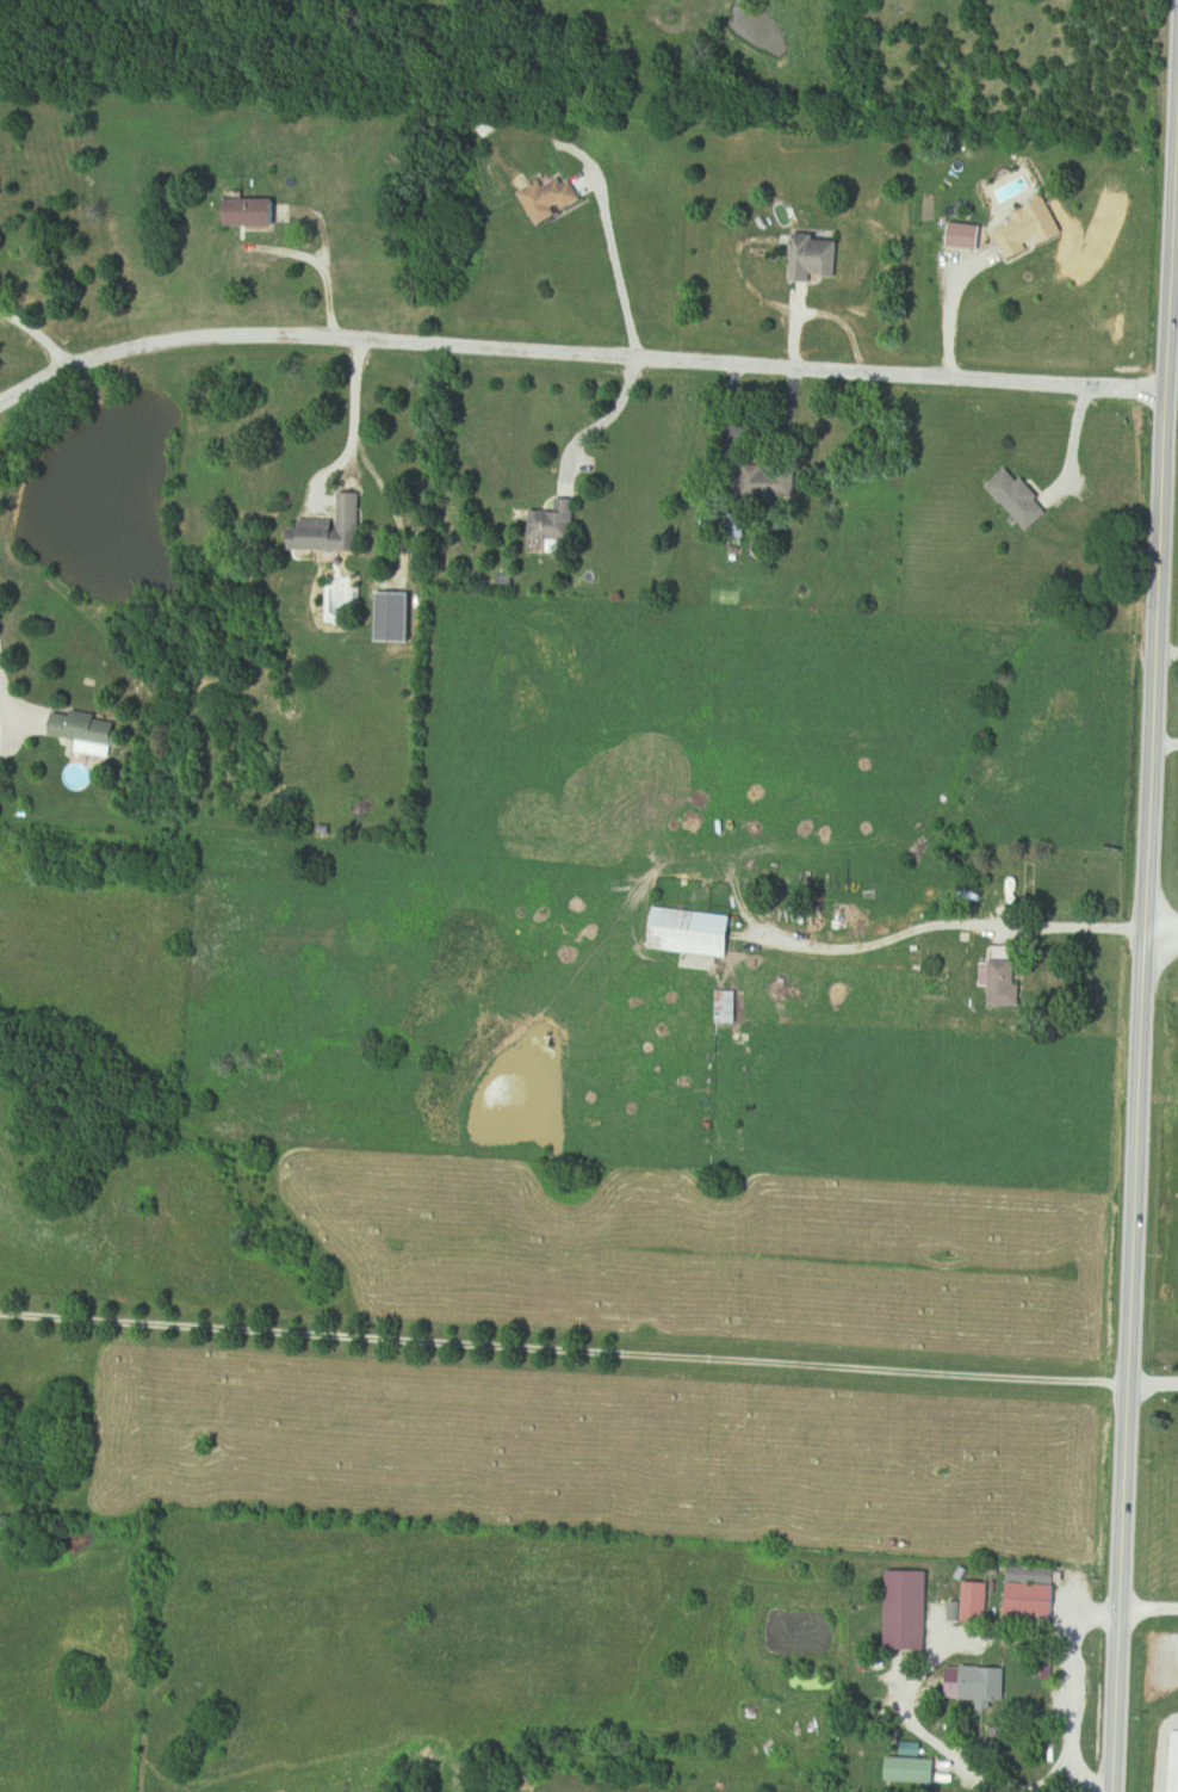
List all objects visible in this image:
building: (551, 197)
building: (249, 211)
building: (1029, 229)
building: (966, 235)
building: (813, 257)
road: (619, 268)
road: (948, 315)
road: (831, 316)
road: (39, 333)
road: (575, 356)
road: (599, 427)
road: (352, 447)
building: (1021, 499)
building: (329, 527)
building: (553, 529)
road: (1166, 655)
road: (6, 699)
building: (85, 733)
road: (1164, 748)
road: (955, 917)
road: (1145, 921)
building: (707, 934)
road: (1161, 943)
building: (1009, 991)
building: (726, 1008)
road: (563, 1357)
road: (1153, 1386)
building: (1031, 1603)
road: (1148, 1612)
building: (979, 1685)
building: (913, 1771)

